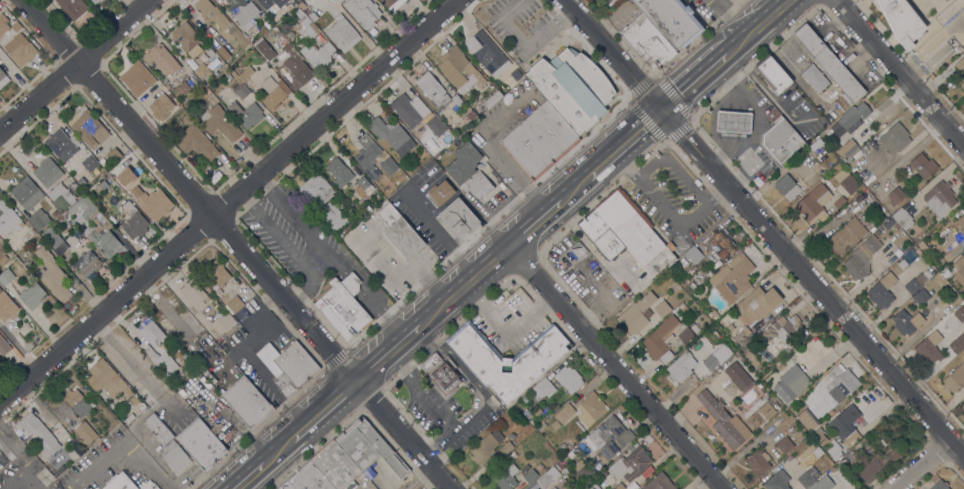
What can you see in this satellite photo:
building: (603, 0)
building: (95, 1)
building: (101, 1)
building: (338, 1)
building: (390, 4)
building: (272, 5)
building: (72, 7)
building: (243, 12)
building: (363, 12)
building: (211, 13)
road: (723, 14)
building: (312, 15)
building: (263, 17)
building: (671, 20)
building: (901, 20)
building: (3, 24)
building: (268, 24)
road: (741, 24)
building: (306, 25)
road: (763, 31)
building: (342, 33)
building: (187, 39)
building: (240, 39)
building: (647, 42)
building: (20, 49)
building: (210, 52)
building: (223, 52)
building: (486, 53)
building: (318, 55)
building: (162, 59)
building: (288, 63)
building: (829, 63)
road: (73, 65)
building: (960, 65)
building: (459, 70)
building: (202, 71)
road: (901, 71)
building: (245, 73)
building: (515, 74)
building: (772, 74)
building: (3, 78)
building: (137, 78)
building: (814, 78)
road: (691, 82)
building: (962, 84)
building: (572, 88)
building: (183, 89)
building: (241, 91)
building: (436, 91)
building: (274, 92)
building: (492, 99)
building: (843, 102)
building: (161, 107)
building: (406, 110)
building: (246, 114)
building: (468, 117)
building: (850, 119)
building: (733, 121)
building: (221, 123)
building: (435, 126)
building: (88, 127)
building: (391, 135)
building: (895, 138)
road: (626, 139)
building: (538, 141)
building: (781, 141)
building: (815, 144)
building: (61, 145)
building: (200, 146)
building: (846, 147)
building: (432, 150)
building: (113, 155)
building: (367, 155)
building: (89, 163)
building: (923, 165)
building: (388, 166)
road: (675, 170)
building: (468, 171)
building: (120, 172)
building: (339, 172)
building: (809, 177)
building: (846, 180)
building: (81, 182)
building: (47, 183)
road: (576, 183)
building: (102, 184)
building: (365, 185)
building: (791, 186)
building: (441, 192)
building: (26, 193)
building: (895, 196)
building: (939, 198)
building: (320, 199)
road: (228, 202)
building: (839, 202)
building: (154, 204)
building: (814, 204)
road: (665, 211)
building: (8, 218)
building: (902, 218)
building: (38, 219)
building: (459, 219)
building: (133, 221)
road: (534, 221)
building: (961, 223)
building: (888, 224)
building: (875, 225)
building: (97, 227)
road: (763, 230)
building: (399, 233)
building: (627, 233)
building: (846, 234)
building: (27, 235)
building: (55, 241)
building: (723, 243)
road: (235, 244)
railway: (515, 244)
building: (924, 247)
road: (287, 248)
building: (578, 251)
building: (952, 251)
building: (693, 254)
road: (330, 258)
building: (861, 258)
building: (3, 259)
building: (86, 263)
building: (959, 270)
building: (217, 273)
building: (946, 273)
building: (52, 274)
building: (6, 276)
building: (733, 277)
building: (915, 283)
road: (463, 284)
building: (882, 291)
building: (195, 293)
building: (32, 295)
building: (921, 296)
building: (235, 304)
building: (756, 304)
building: (6, 306)
building: (343, 306)
building: (662, 308)
building: (960, 313)
building: (713, 315)
building: (634, 317)
building: (948, 318)
building: (916, 320)
building: (226, 321)
building: (903, 323)
building: (730, 327)
building: (787, 327)
building: (745, 330)
building: (150, 332)
building: (685, 335)
building: (660, 341)
building: (957, 343)
building: (4, 345)
building: (929, 348)
road: (384, 351)
building: (220, 353)
building: (178, 355)
building: (748, 355)
building: (507, 359)
building: (753, 361)
building: (710, 362)
building: (167, 364)
building: (288, 366)
road: (615, 366)
building: (681, 366)
building: (780, 367)
building: (441, 372)
building: (207, 373)
building: (739, 377)
building: (568, 378)
building: (955, 378)
building: (841, 380)
building: (109, 381)
building: (791, 384)
building: (542, 389)
building: (78, 402)
building: (246, 402)
building: (710, 403)
building: (963, 406)
road: (322, 407)
building: (591, 408)
building: (62, 410)
building: (766, 410)
building: (564, 413)
building: (806, 420)
building: (555, 424)
building: (731, 429)
building: (844, 430)
building: (86, 432)
building: (817, 432)
building: (38, 434)
building: (609, 438)
road: (122, 443)
building: (167, 444)
building: (201, 444)
building: (785, 444)
road: (13, 445)
building: (485, 446)
road: (277, 447)
building: (368, 447)
building: (505, 448)
building: (834, 449)
building: (512, 455)
building: (566, 457)
building: (757, 462)
building: (879, 463)
building: (630, 464)
building: (334, 465)
building: (559, 465)
road: (921, 466)
building: (539, 467)
building: (583, 471)
road: (246, 474)
building: (603, 474)
building: (530, 475)
road: (18, 476)
building: (506, 477)
building: (308, 478)
road: (417, 478)
road: (32, 479)
building: (805, 479)
building: (544, 480)
building: (777, 481)
building: (658, 482)
building: (119, 483)
building: (822, 483)
building: (563, 484)
building: (148, 485)
building: (940, 485)
building: (284, 486)
building: (594, 487)
building: (620, 487)
road: (71, 488)
building: (525, 488)
building: (535, 488)
building: (537, 488)
building: (553, 488)

